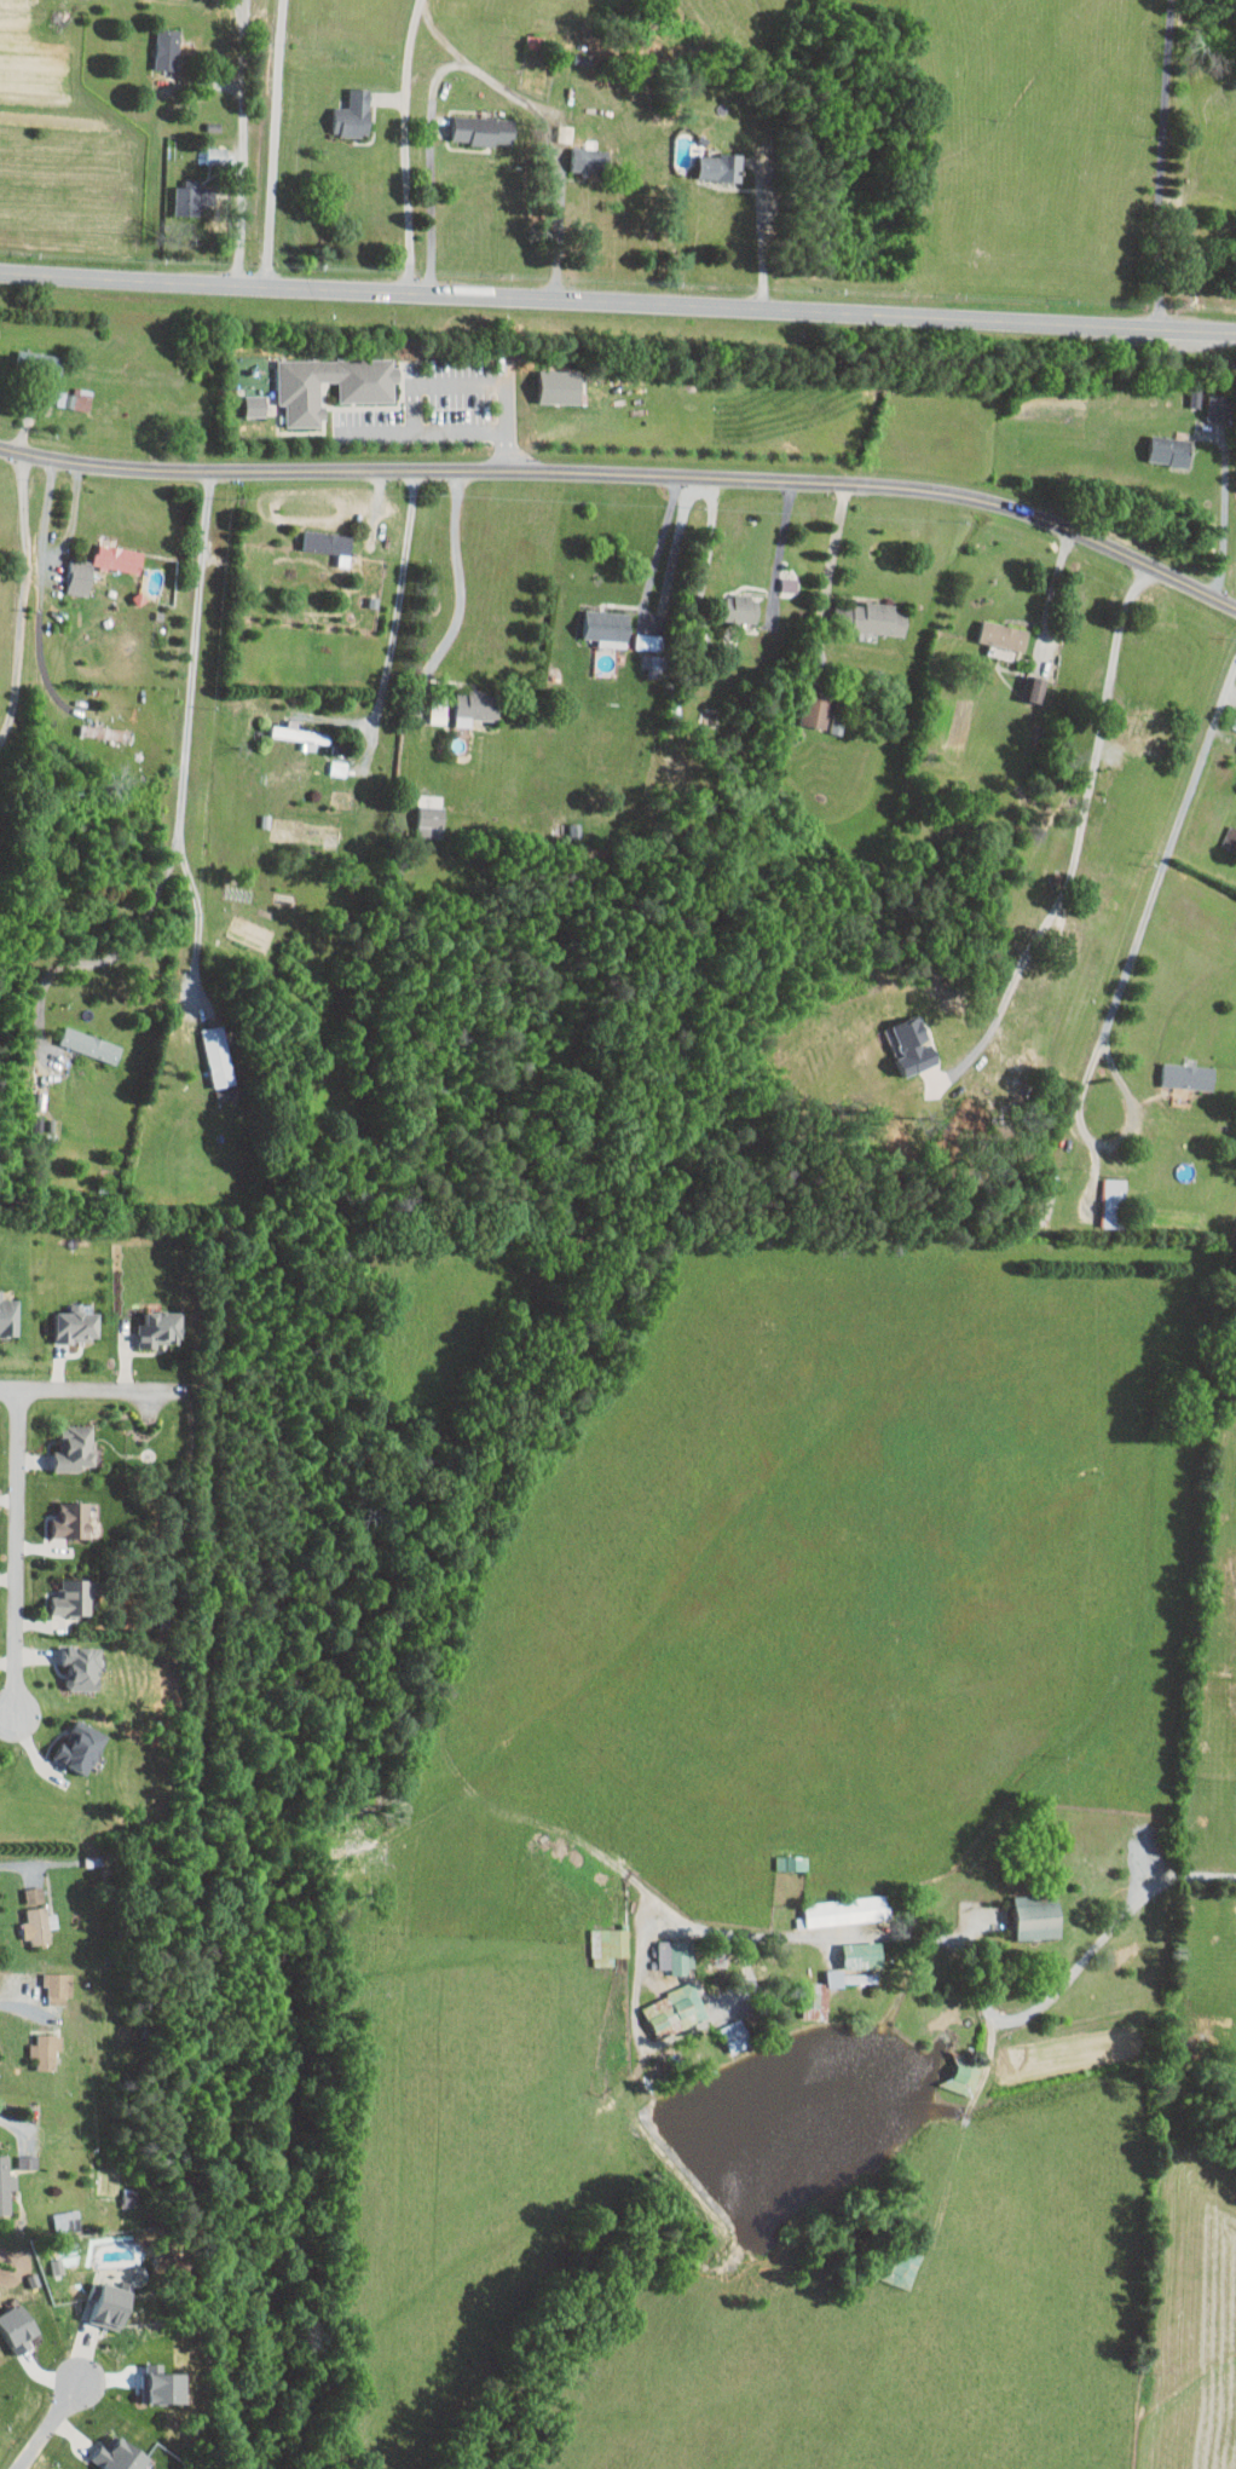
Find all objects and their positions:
road: (441, 35)
building: (167, 47)
road: (478, 70)
building: (353, 114)
building: (484, 129)
road: (242, 142)
road: (275, 143)
road: (406, 145)
building: (590, 158)
road: (1178, 165)
building: (720, 166)
building: (192, 197)
road: (763, 244)
road: (617, 302)
building: (39, 363)
road: (460, 382)
building: (560, 386)
building: (365, 393)
building: (1196, 397)
building: (74, 400)
parking lot: (445, 405)
building: (1219, 406)
building: (254, 408)
road: (446, 433)
building: (1171, 450)
road: (629, 473)
road: (1225, 512)
building: (329, 544)
road: (655, 546)
road: (779, 547)
road: (834, 550)
road: (48, 554)
building: (119, 558)
building: (80, 576)
road: (703, 578)
building: (790, 584)
road: (461, 587)
road: (22, 606)
building: (741, 608)
road: (397, 617)
building: (871, 617)
building: (607, 627)
building: (1004, 634)
road: (36, 640)
building: (649, 641)
road: (196, 656)
building: (654, 665)
building: (1036, 690)
building: (475, 706)
building: (815, 710)
building: (1234, 723)
building: (1147, 728)
building: (302, 735)
building: (339, 767)
building: (432, 820)
road: (1074, 835)
building: (1230, 837)
road: (1167, 854)
road: (202, 919)
road: (110, 957)
building: (91, 1044)
building: (913, 1045)
building: (219, 1056)
building: (1188, 1075)
road: (1107, 1143)
building: (1114, 1202)
building: (8, 1316)
building: (76, 1326)
building: (160, 1328)
road: (93, 1388)
building: (75, 1449)
building: (74, 1522)
road: (18, 1552)
building: (75, 1598)
building: (82, 1668)
building: (81, 1748)
road: (10, 1865)
building: (845, 1910)
building: (1038, 1915)
building: (39, 1916)
road: (1107, 1932)
road: (782, 1938)
building: (610, 1944)
building: (676, 1955)
building: (862, 1955)
building: (58, 1986)
building: (815, 2001)
road: (24, 2008)
building: (675, 2011)
building: (735, 2035)
building: (46, 2049)
road: (18, 2128)
building: (28, 2161)
building: (6, 2184)
building: (67, 2221)
building: (57, 2265)
building: (905, 2269)
building: (110, 2304)
road: (48, 2424)
building: (120, 2456)

